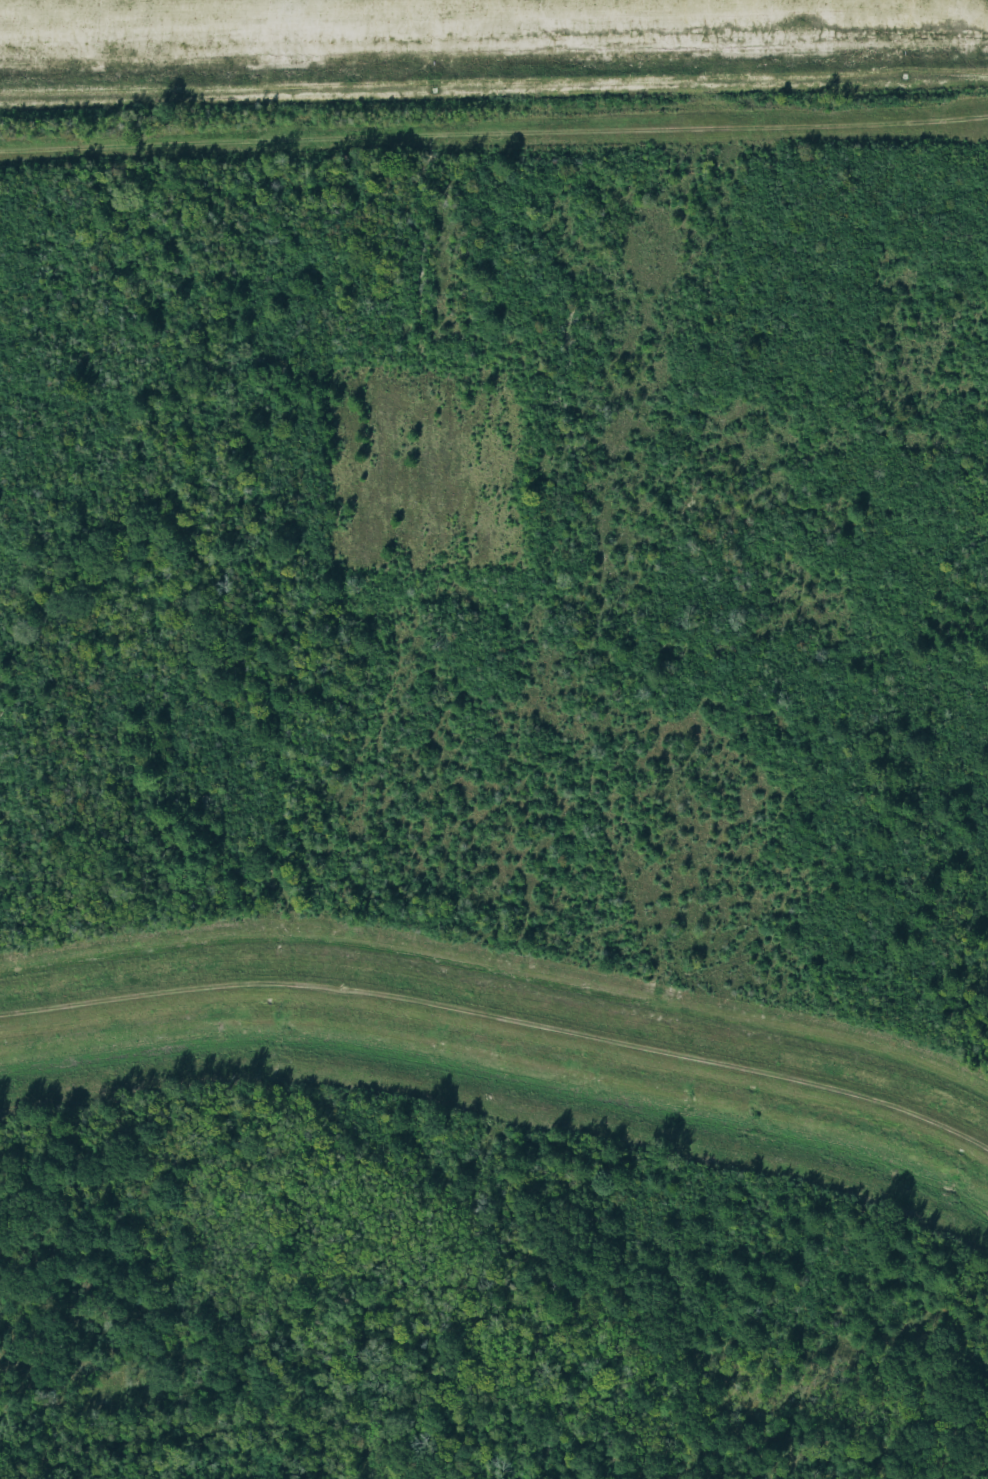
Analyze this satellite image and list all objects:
road: (494, 78)

